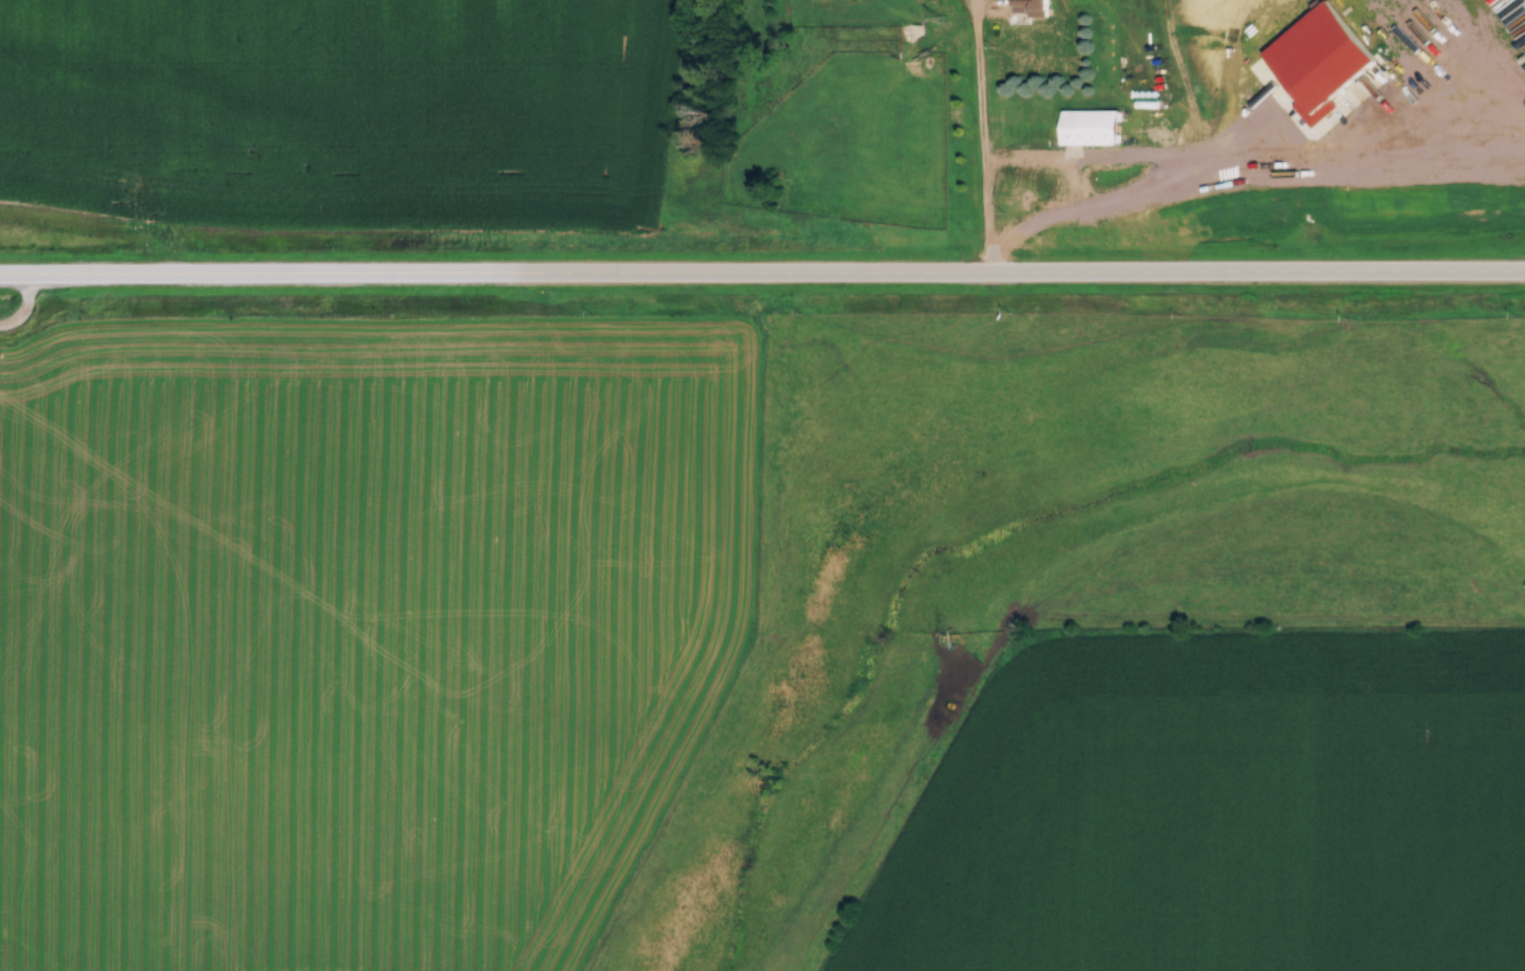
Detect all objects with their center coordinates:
building: (1028, 5)
building: (1089, 124)
road: (984, 141)
building: (1245, 163)
building: (919, 192)
road: (762, 277)
road: (23, 310)

